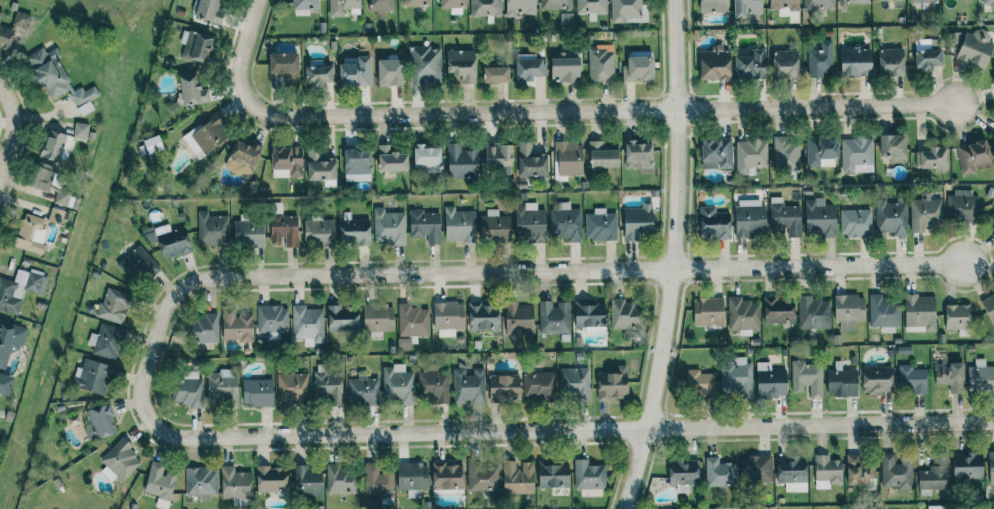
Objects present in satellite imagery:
building: (888, 0)
building: (853, 1)
building: (924, 1)
building: (416, 2)
building: (452, 3)
building: (989, 3)
building: (304, 4)
building: (555, 4)
building: (818, 4)
building: (591, 6)
building: (713, 6)
building: (343, 7)
building: (379, 7)
building: (520, 7)
building: (485, 8)
building: (746, 8)
building: (786, 8)
building: (210, 10)
building: (627, 11)
road: (256, 13)
building: (0, 14)
building: (13, 28)
building: (197, 45)
building: (975, 48)
building: (927, 55)
building: (820, 59)
building: (855, 62)
building: (890, 62)
building: (601, 63)
building: (785, 63)
building: (462, 64)
building: (714, 64)
building: (425, 65)
building: (751, 65)
building: (284, 66)
building: (637, 68)
building: (530, 69)
building: (565, 69)
building: (355, 72)
building: (390, 72)
building: (993, 73)
building: (496, 74)
building: (317, 76)
building: (56, 78)
building: (192, 90)
road: (5, 97)
building: (85, 108)
road: (560, 112)
building: (80, 130)
building: (207, 136)
building: (993, 136)
road: (10, 139)
building: (53, 145)
building: (153, 145)
building: (892, 147)
building: (821, 151)
building: (716, 153)
building: (786, 154)
building: (857, 155)
building: (602, 156)
building: (638, 156)
building: (750, 156)
building: (973, 156)
building: (498, 157)
building: (242, 158)
building: (426, 158)
building: (568, 158)
building: (931, 158)
building: (391, 159)
building: (461, 161)
building: (531, 161)
building: (287, 162)
building: (357, 165)
building: (319, 167)
building: (961, 206)
building: (925, 213)
building: (57, 216)
building: (891, 216)
building: (784, 217)
building: (749, 218)
building: (819, 218)
building: (637, 221)
building: (990, 221)
building: (529, 222)
building: (855, 222)
building: (565, 223)
building: (714, 223)
building: (425, 225)
building: (459, 225)
building: (600, 225)
building: (494, 226)
building: (283, 227)
building: (389, 227)
building: (212, 229)
building: (319, 231)
building: (355, 232)
building: (30, 233)
building: (248, 233)
building: (173, 241)
road: (675, 257)
building: (137, 265)
road: (817, 267)
road: (440, 274)
building: (20, 289)
building: (114, 305)
building: (708, 311)
building: (778, 311)
building: (848, 311)
building: (590, 313)
building: (813, 313)
building: (883, 313)
building: (919, 313)
building: (624, 314)
building: (742, 314)
building: (483, 317)
building: (554, 317)
building: (957, 317)
building: (342, 318)
building: (378, 318)
building: (448, 318)
building: (518, 318)
building: (272, 319)
building: (412, 321)
building: (307, 324)
building: (236, 326)
building: (205, 329)
building: (106, 341)
building: (404, 344)
building: (9, 351)
building: (950, 376)
building: (92, 377)
building: (807, 377)
building: (980, 377)
building: (737, 378)
building: (876, 379)
building: (912, 379)
building: (770, 381)
building: (574, 382)
building: (699, 382)
building: (397, 384)
building: (612, 384)
building: (327, 385)
building: (434, 385)
building: (538, 385)
building: (222, 386)
building: (292, 386)
building: (468, 386)
building: (503, 387)
building: (188, 389)
building: (363, 391)
building: (257, 392)
building: (102, 421)
road: (483, 430)
building: (120, 461)
building: (967, 466)
building: (991, 467)
building: (756, 468)
building: (858, 471)
building: (683, 472)
building: (792, 472)
building: (826, 472)
building: (895, 472)
building: (719, 473)
building: (553, 475)
building: (588, 475)
building: (412, 476)
building: (447, 476)
building: (933, 476)
building: (483, 477)
building: (517, 477)
building: (271, 479)
building: (200, 480)
building: (339, 480)
building: (377, 481)
building: (307, 482)
building: (235, 483)
building: (160, 484)
building: (936, 507)

